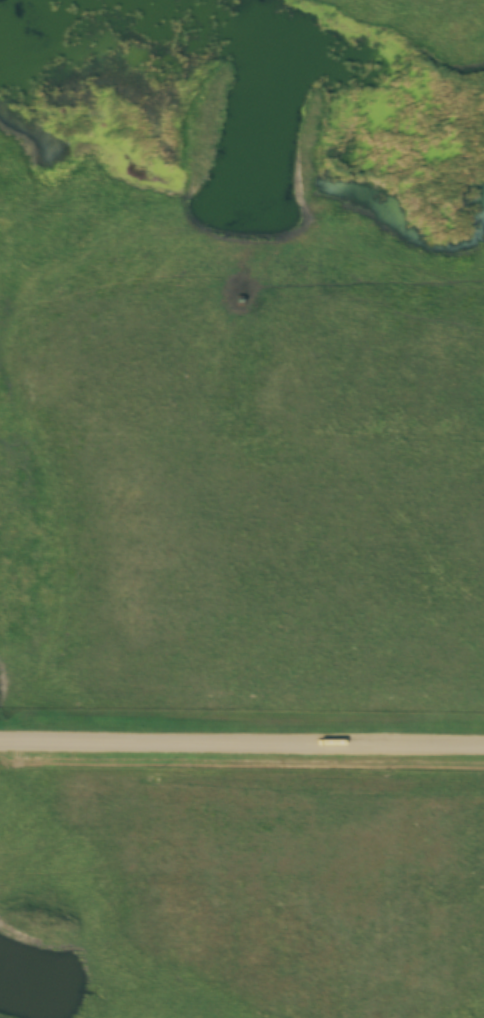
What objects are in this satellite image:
road: (242, 741)

